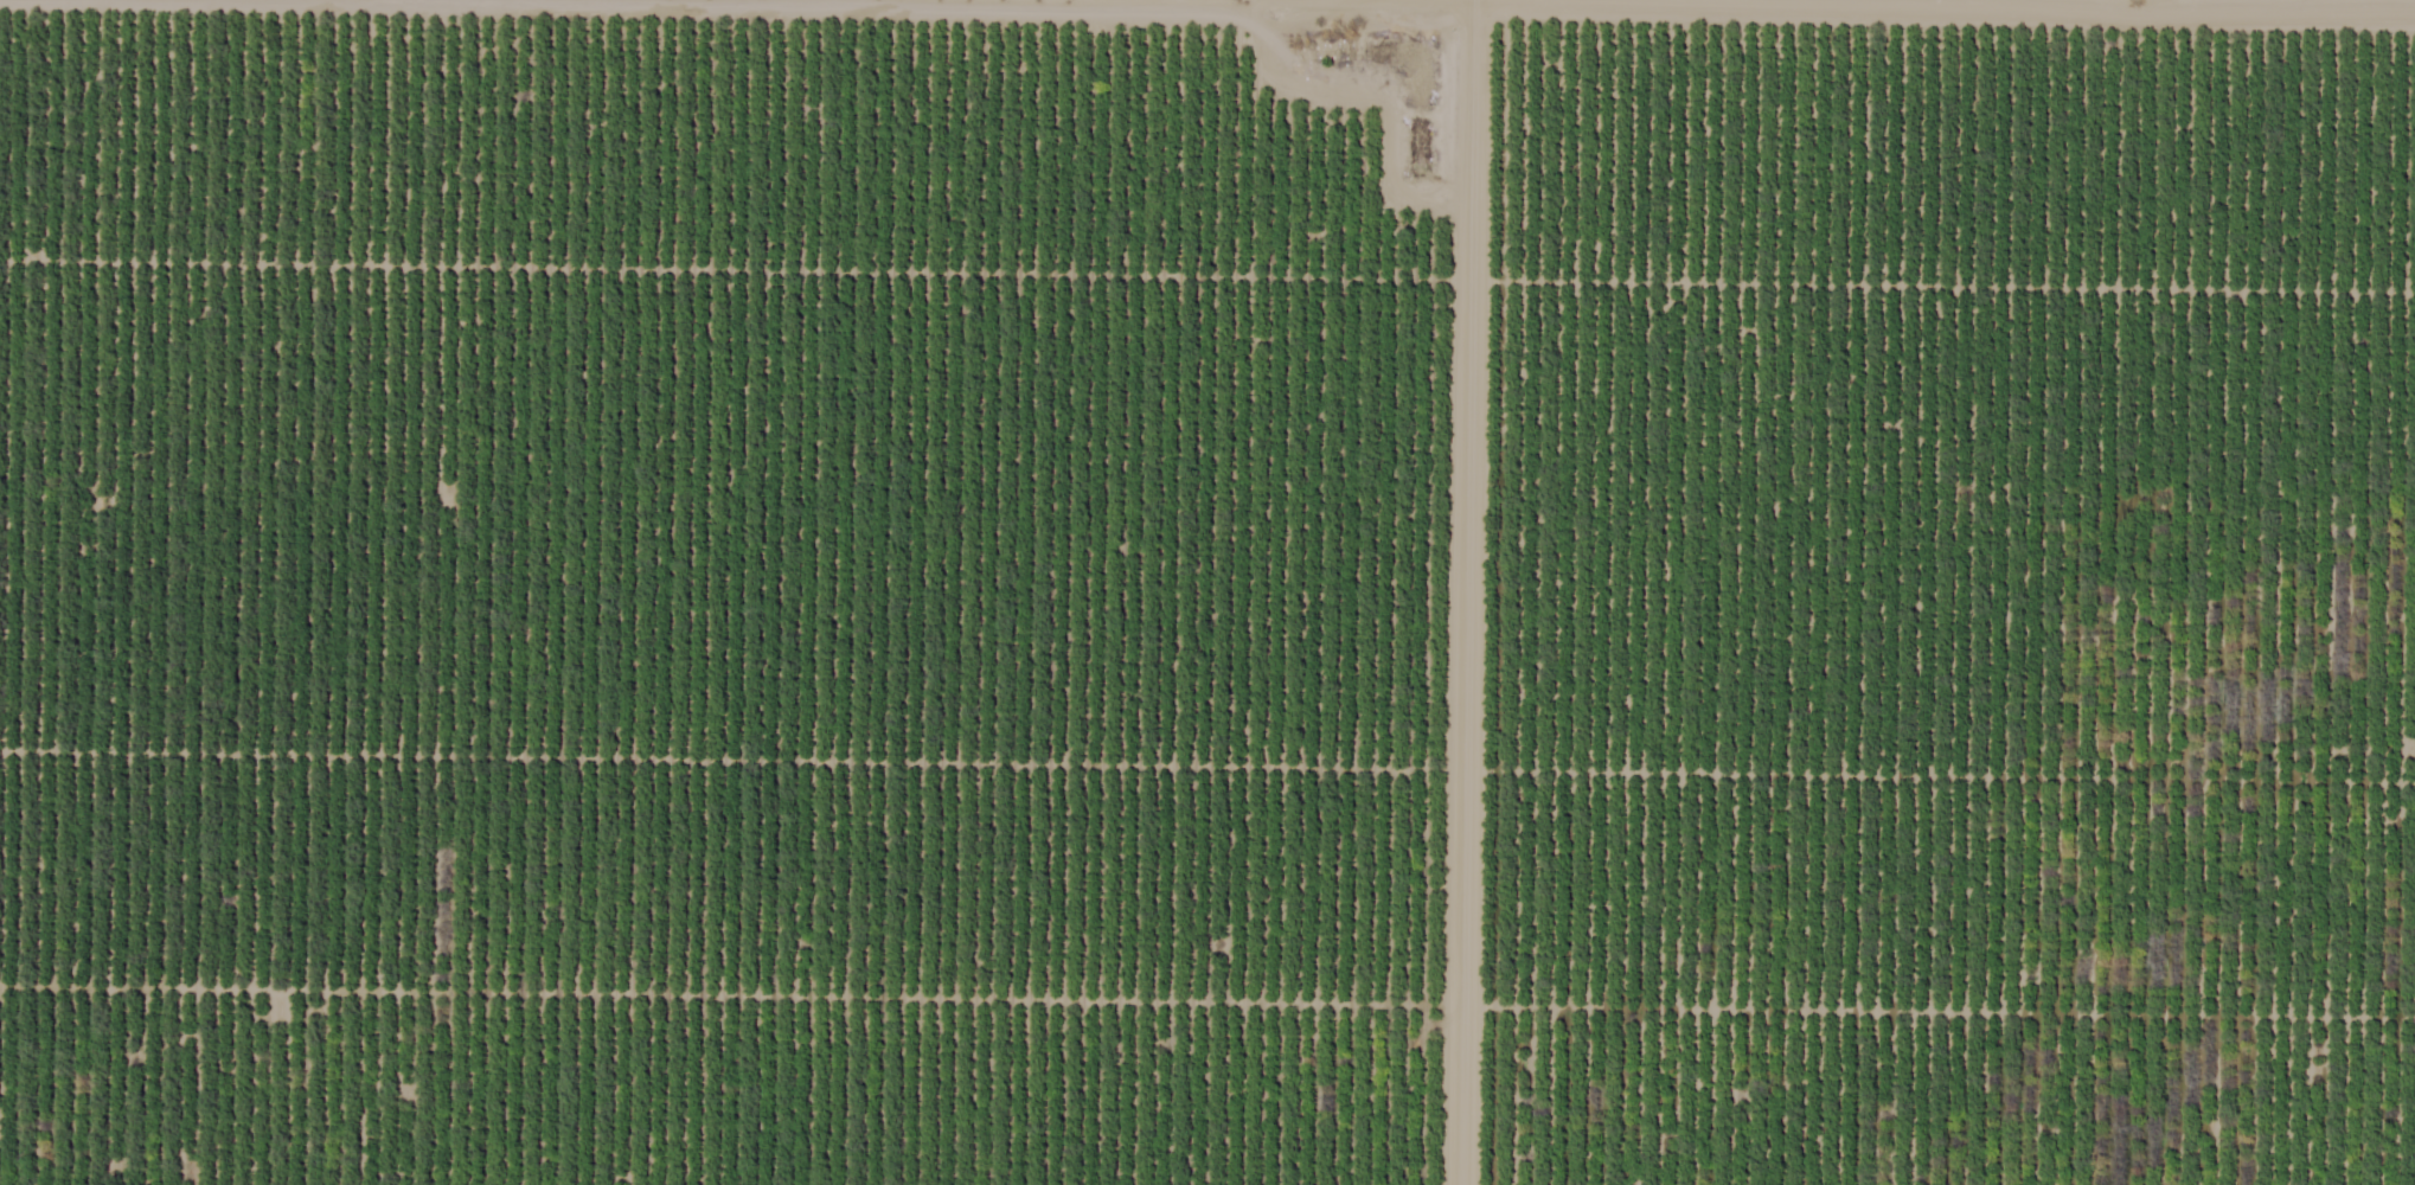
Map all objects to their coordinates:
road: (1486, 592)

